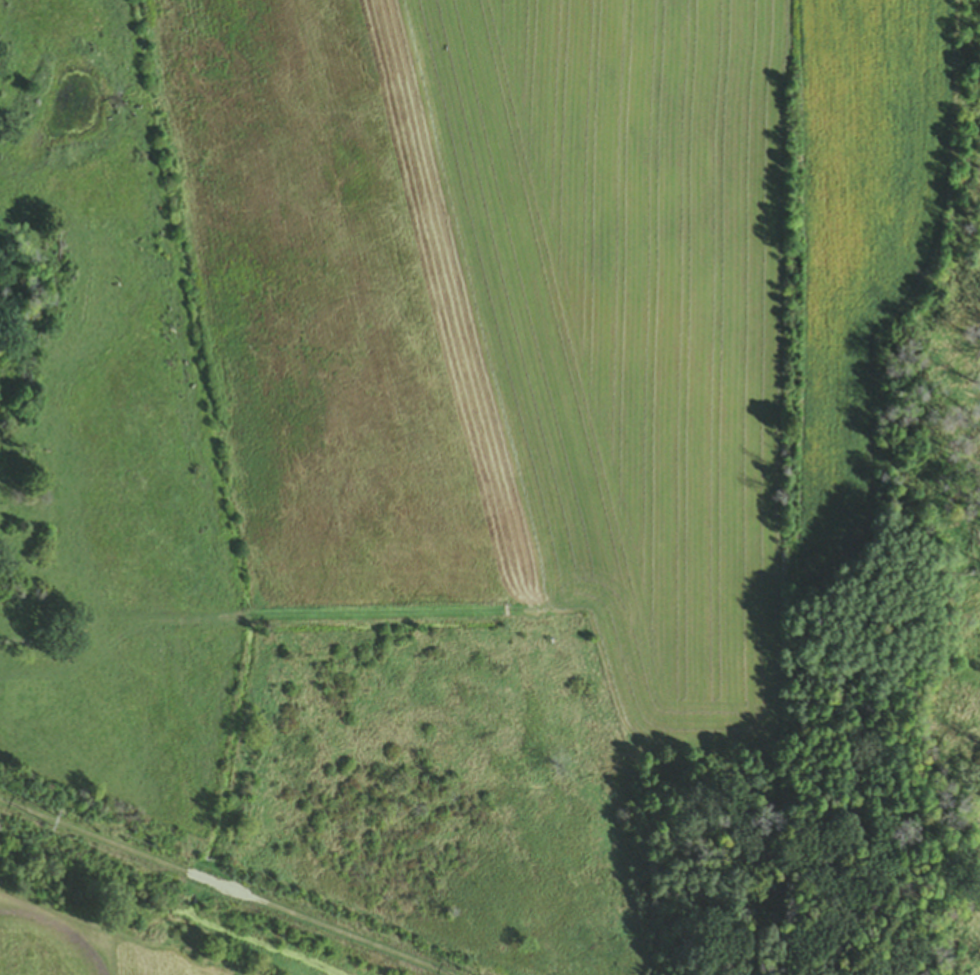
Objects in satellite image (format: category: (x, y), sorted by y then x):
road: (257, 618)
power tower: (60, 826)

